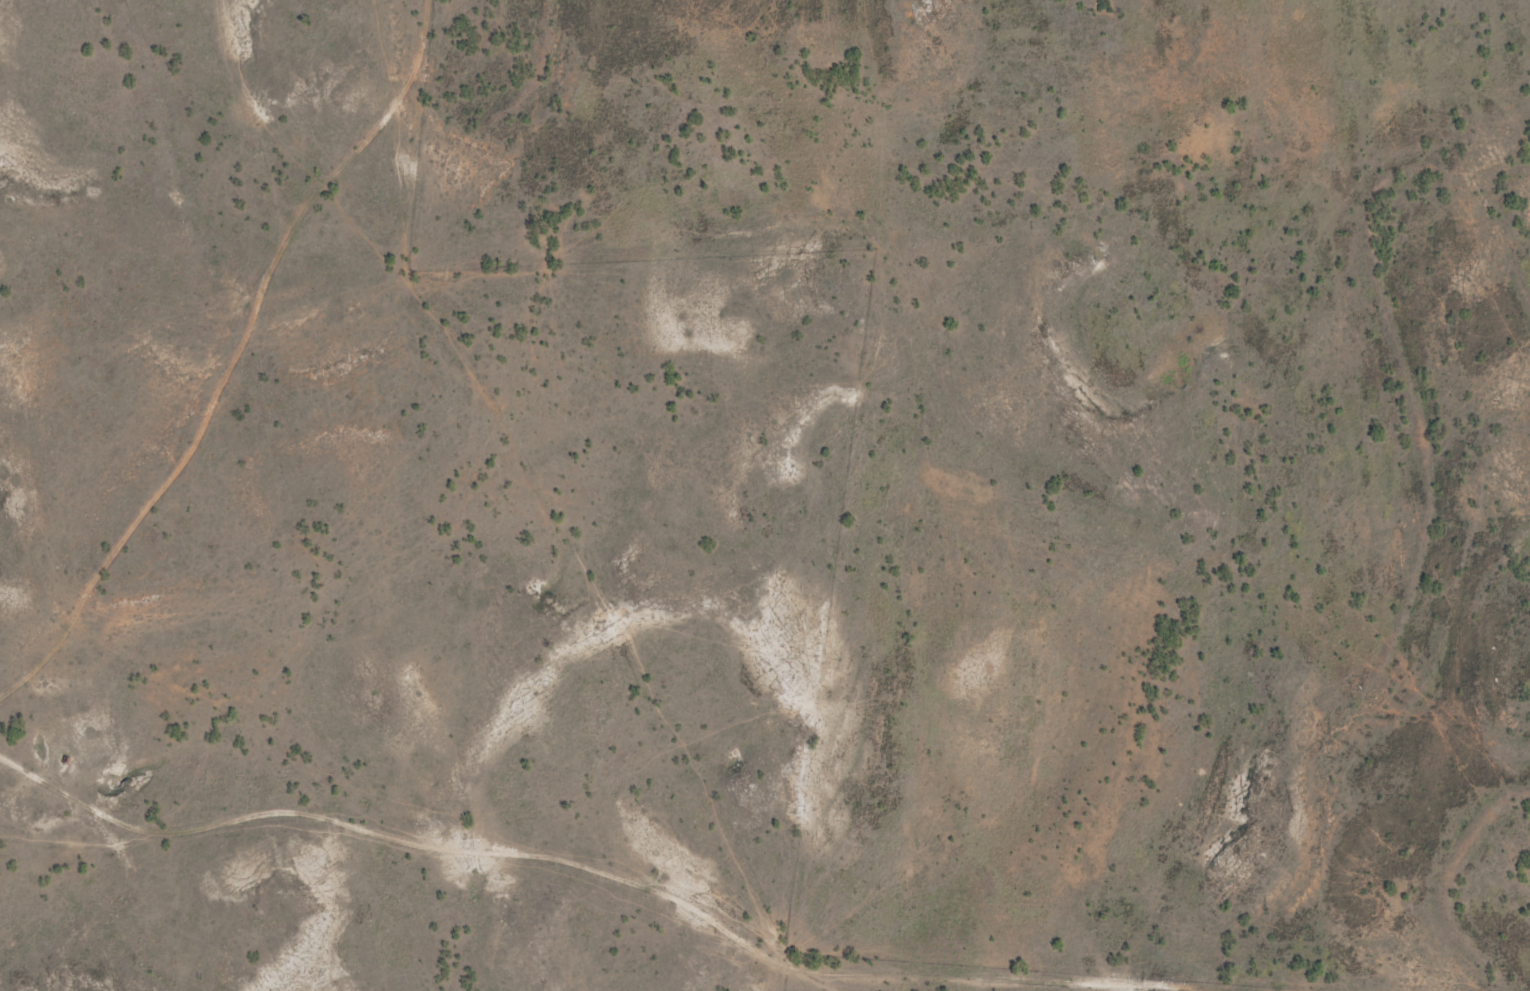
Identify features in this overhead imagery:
road: (435, 60)
road: (209, 404)
road: (832, 734)
road: (943, 935)

